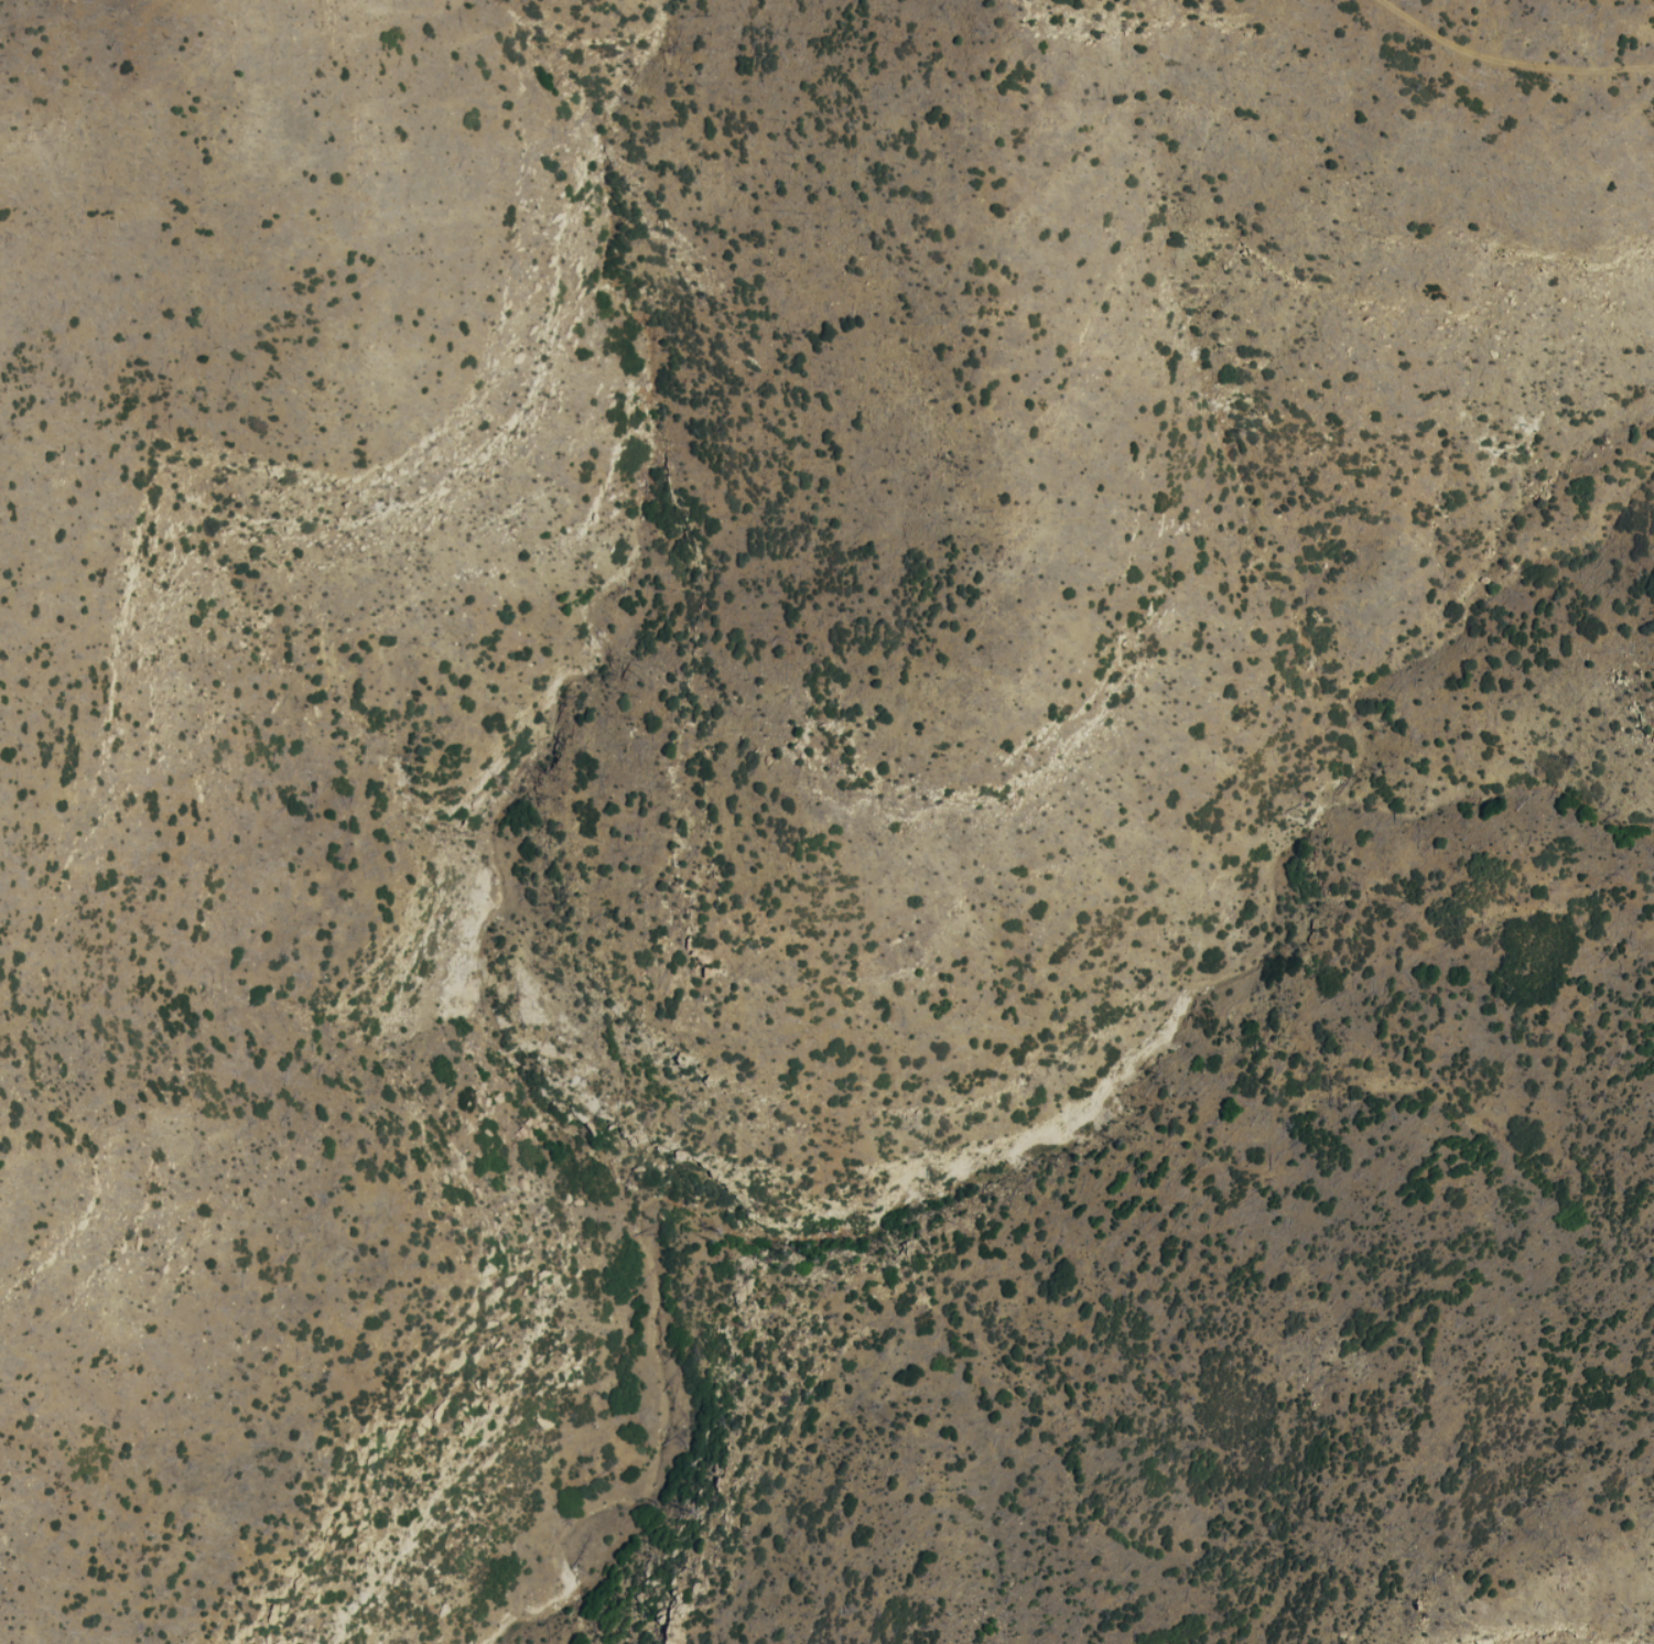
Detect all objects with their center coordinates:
road: (1515, 61)

